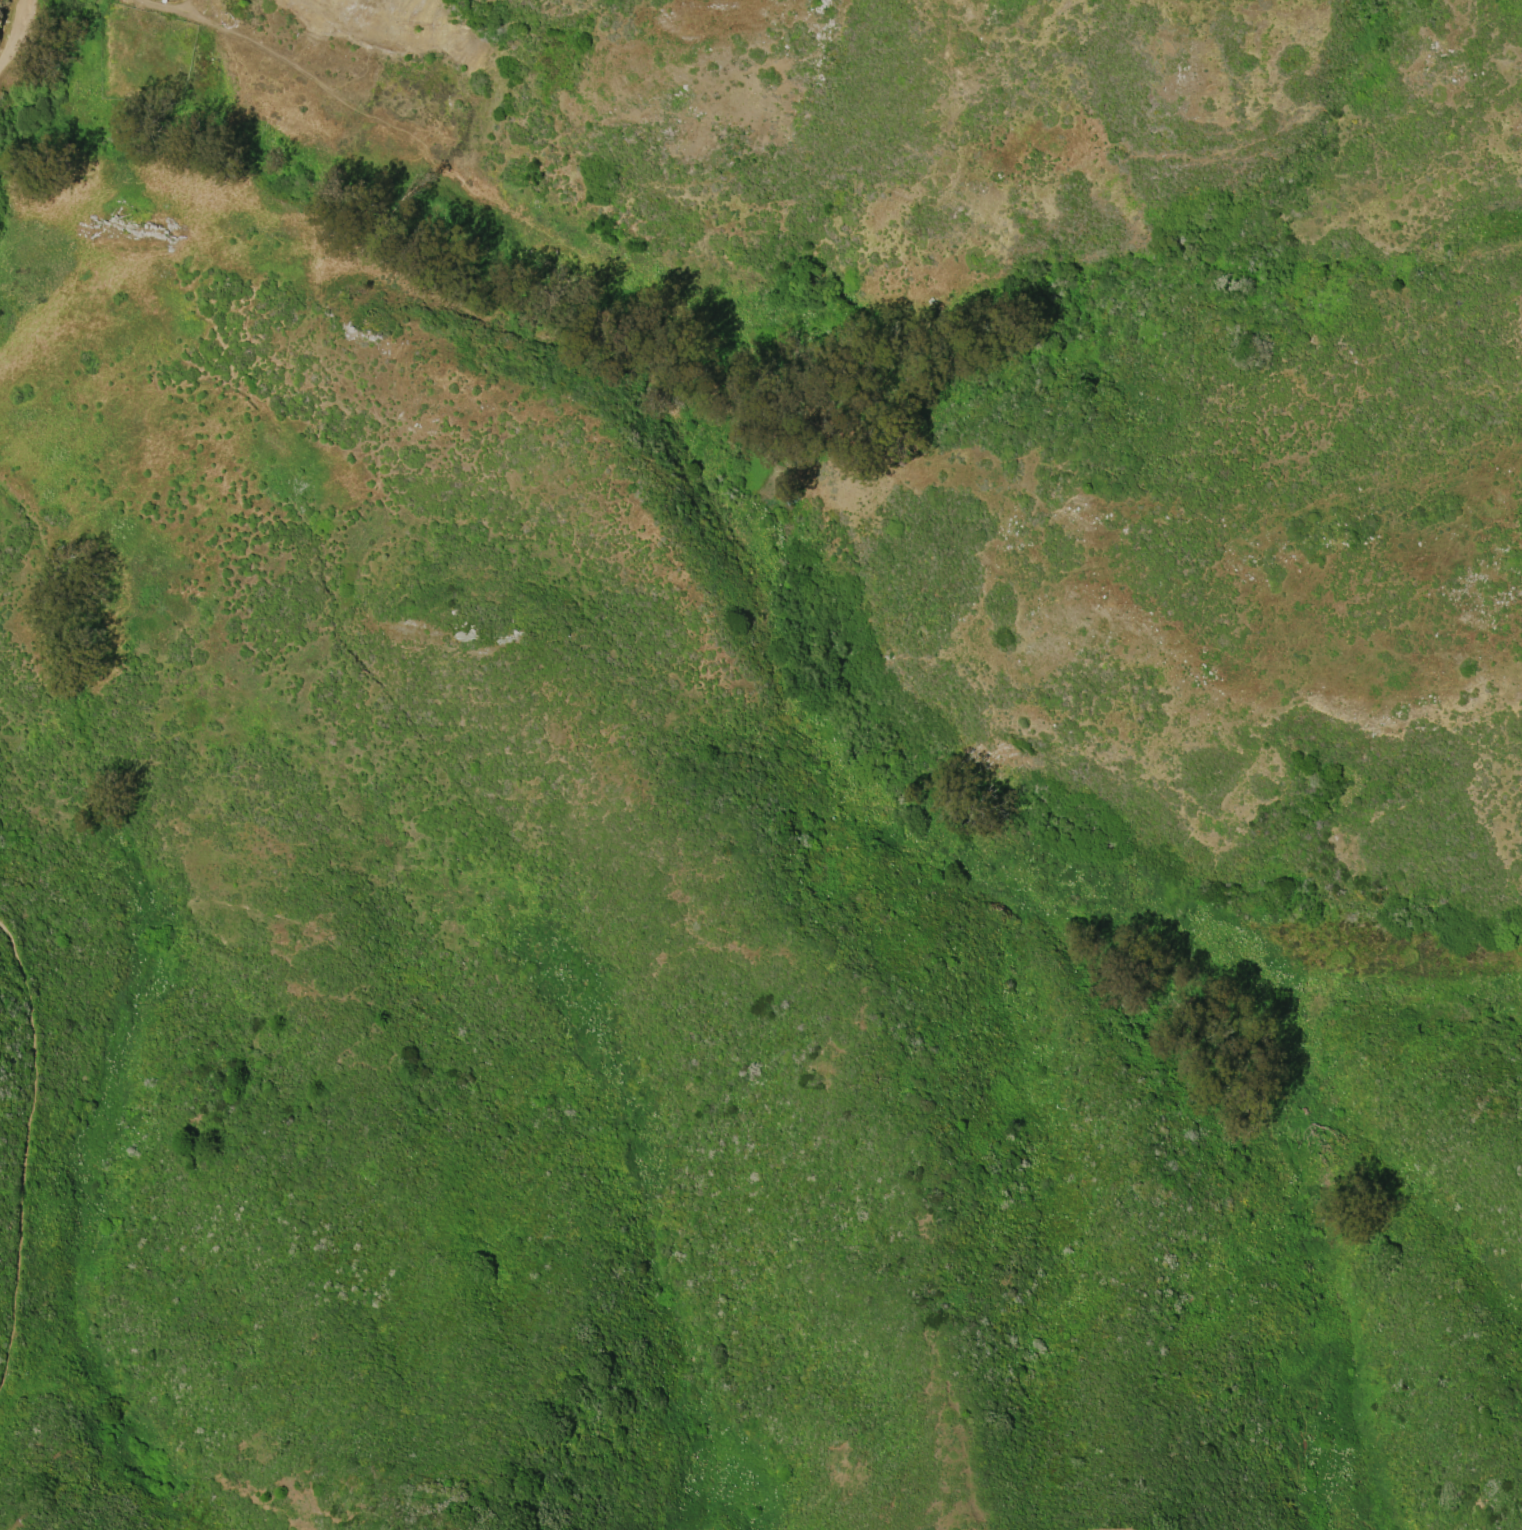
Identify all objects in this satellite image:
building: (211, 9)
road: (209, 24)
road: (16, 34)
road: (26, 1149)

